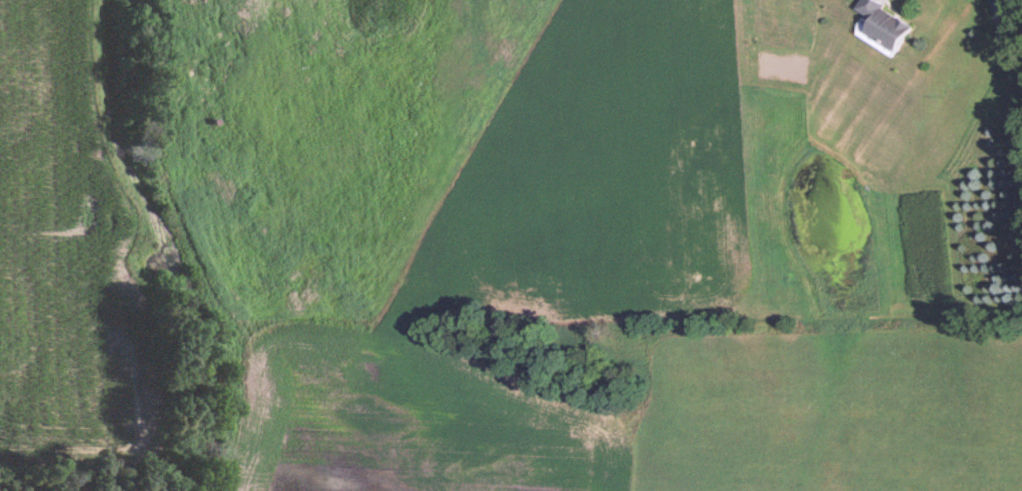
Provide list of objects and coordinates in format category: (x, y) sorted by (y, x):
building: (878, 24)

